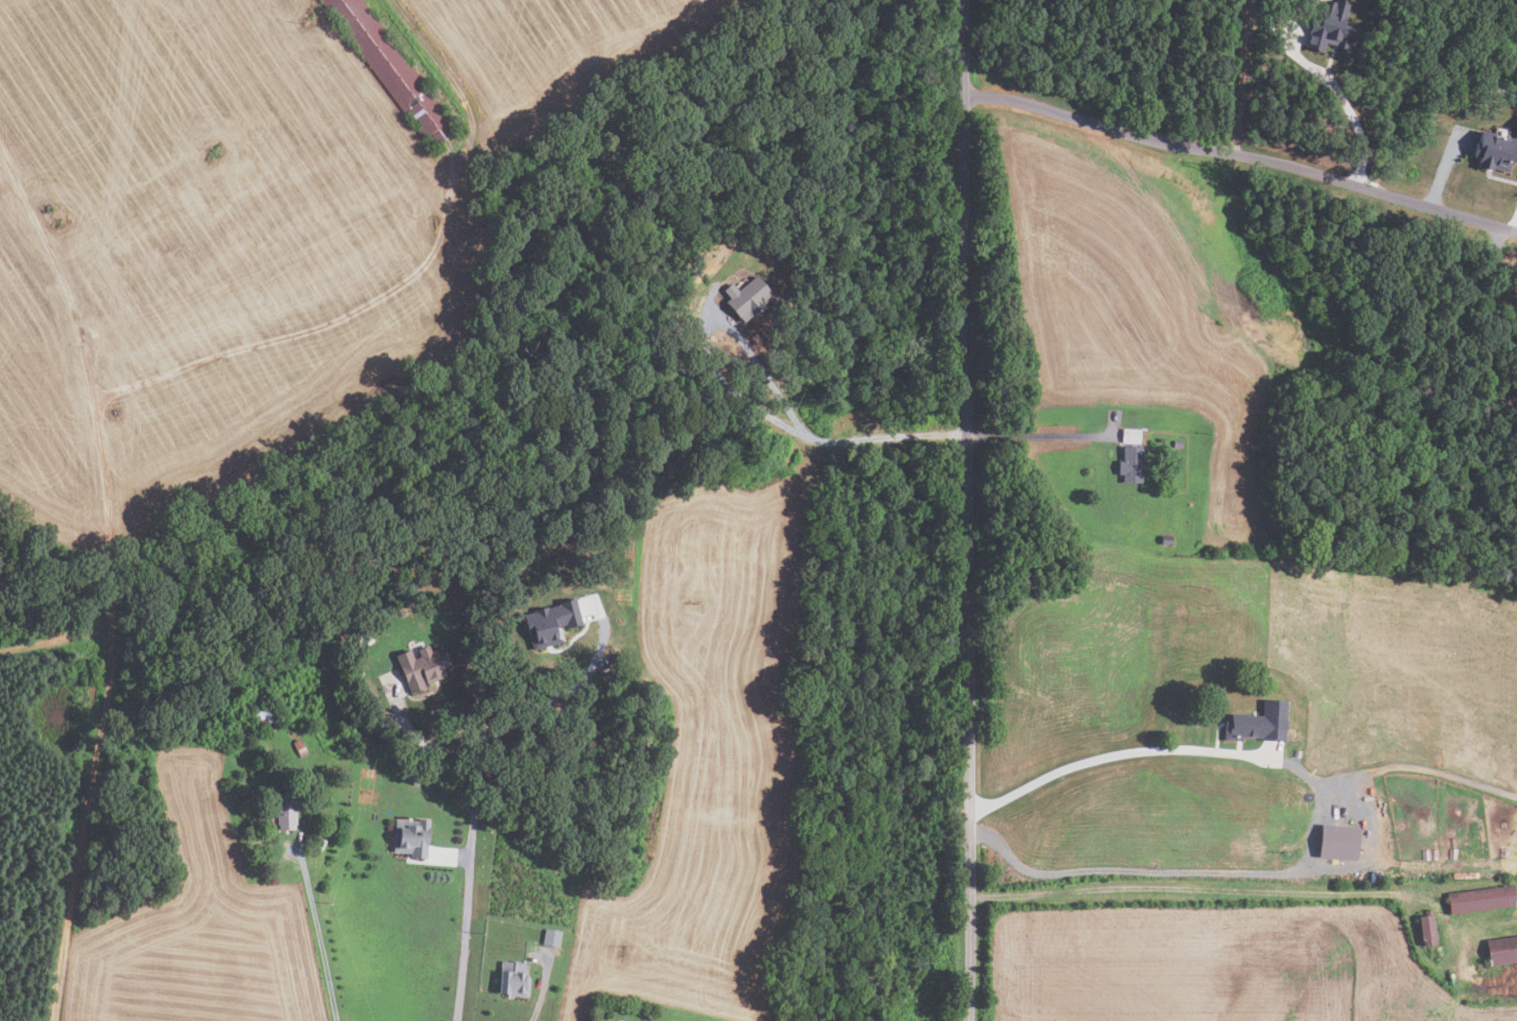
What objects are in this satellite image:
building: (1329, 27)
crop: (552, 49)
building: (392, 69)
road: (1343, 98)
building: (1497, 151)
road: (1238, 156)
road: (1514, 222)
road: (1514, 230)
crop: (203, 256)
building: (747, 298)
crop: (1148, 309)
road: (310, 330)
road: (88, 375)
building: (1130, 435)
road: (1038, 436)
road: (820, 441)
building: (1177, 444)
building: (1130, 465)
road: (967, 510)
building: (1166, 540)
building: (593, 570)
building: (1158, 608)
building: (398, 609)
building: (1187, 619)
building: (550, 623)
building: (362, 638)
road: (55, 639)
building: (1183, 647)
crop: (1275, 652)
building: (421, 668)
road: (552, 699)
building: (263, 718)
building: (1261, 722)
road: (417, 734)
building: (299, 748)
building: (1296, 753)
crop: (711, 760)
road: (1414, 767)
building: (412, 776)
building: (285, 813)
road: (1318, 819)
road: (83, 823)
building: (410, 838)
building: (1338, 840)
building: (319, 845)
road: (452, 858)
road: (467, 887)
building: (1481, 898)
crop: (198, 926)
building: (1427, 929)
road: (322, 933)
building: (551, 937)
building: (1502, 950)
crop: (1217, 964)
building: (512, 978)
road: (543, 986)

